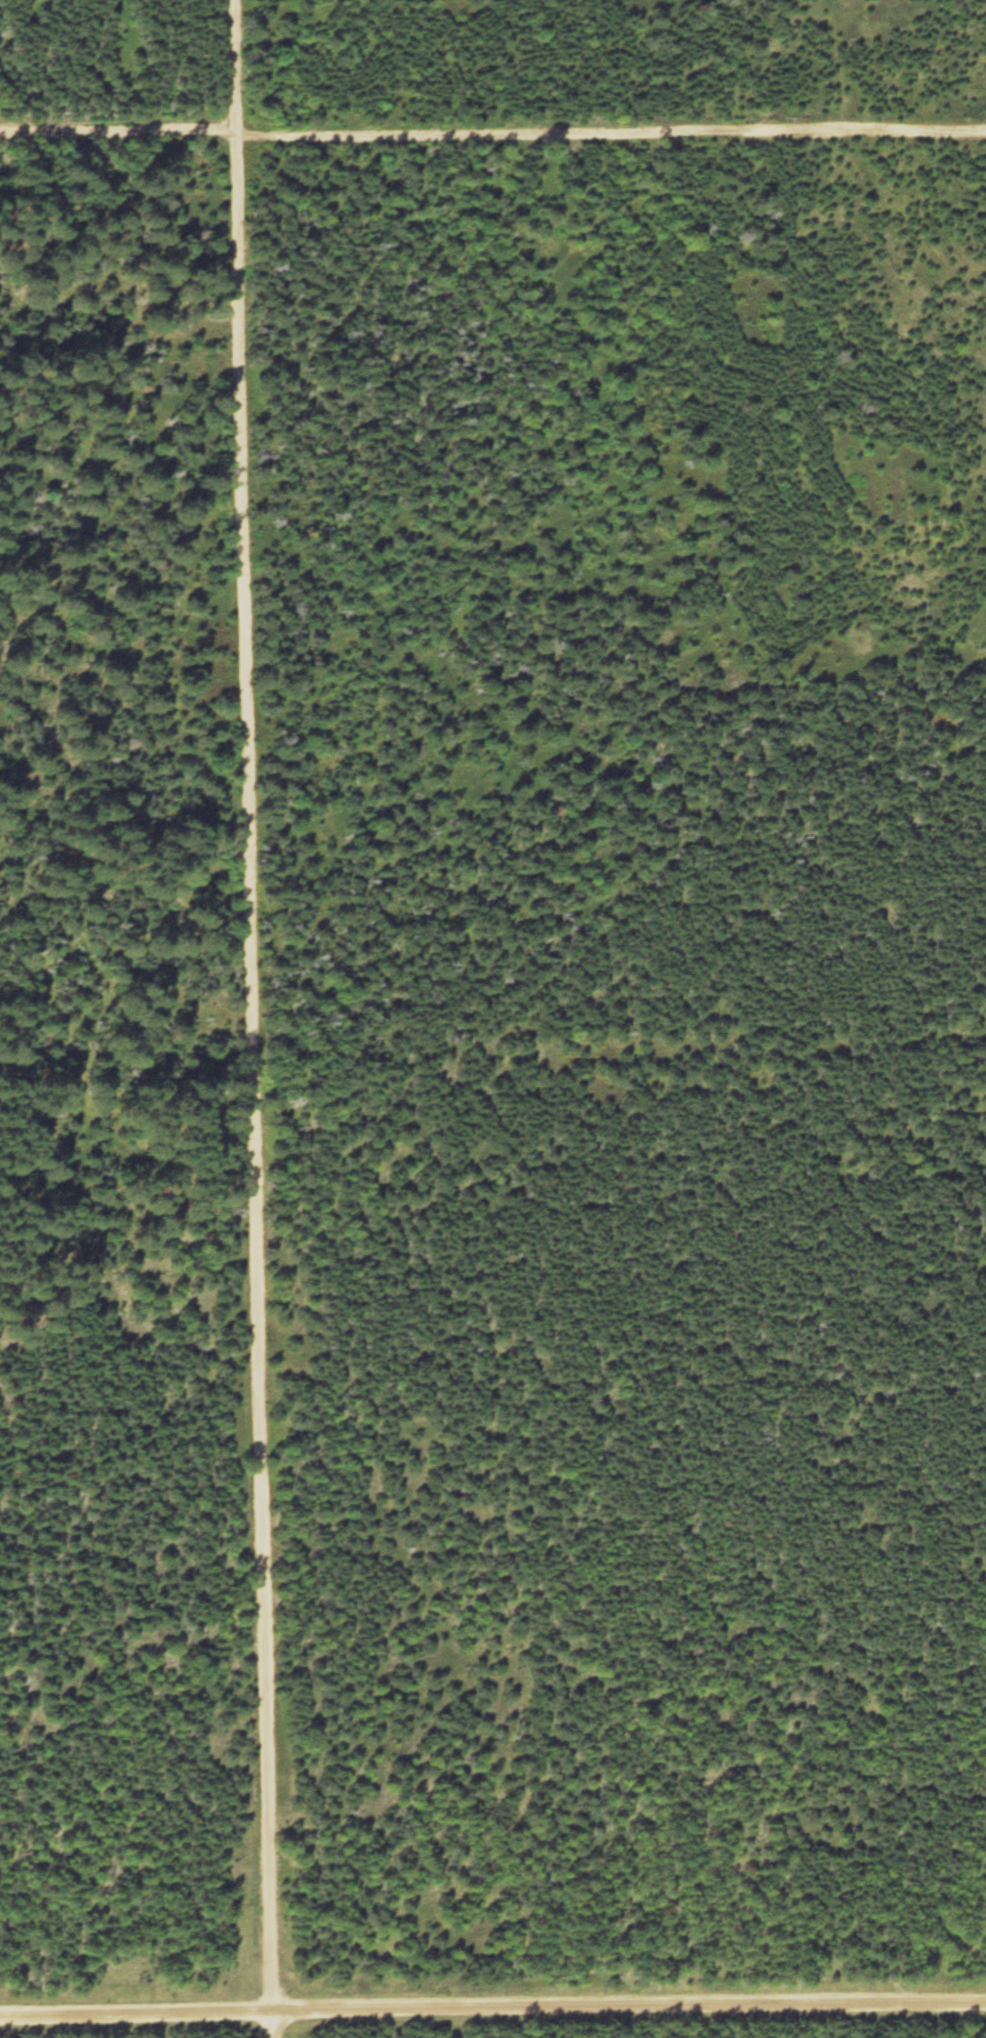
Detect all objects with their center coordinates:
road: (492, 138)
road: (259, 1018)
road: (492, 2013)

